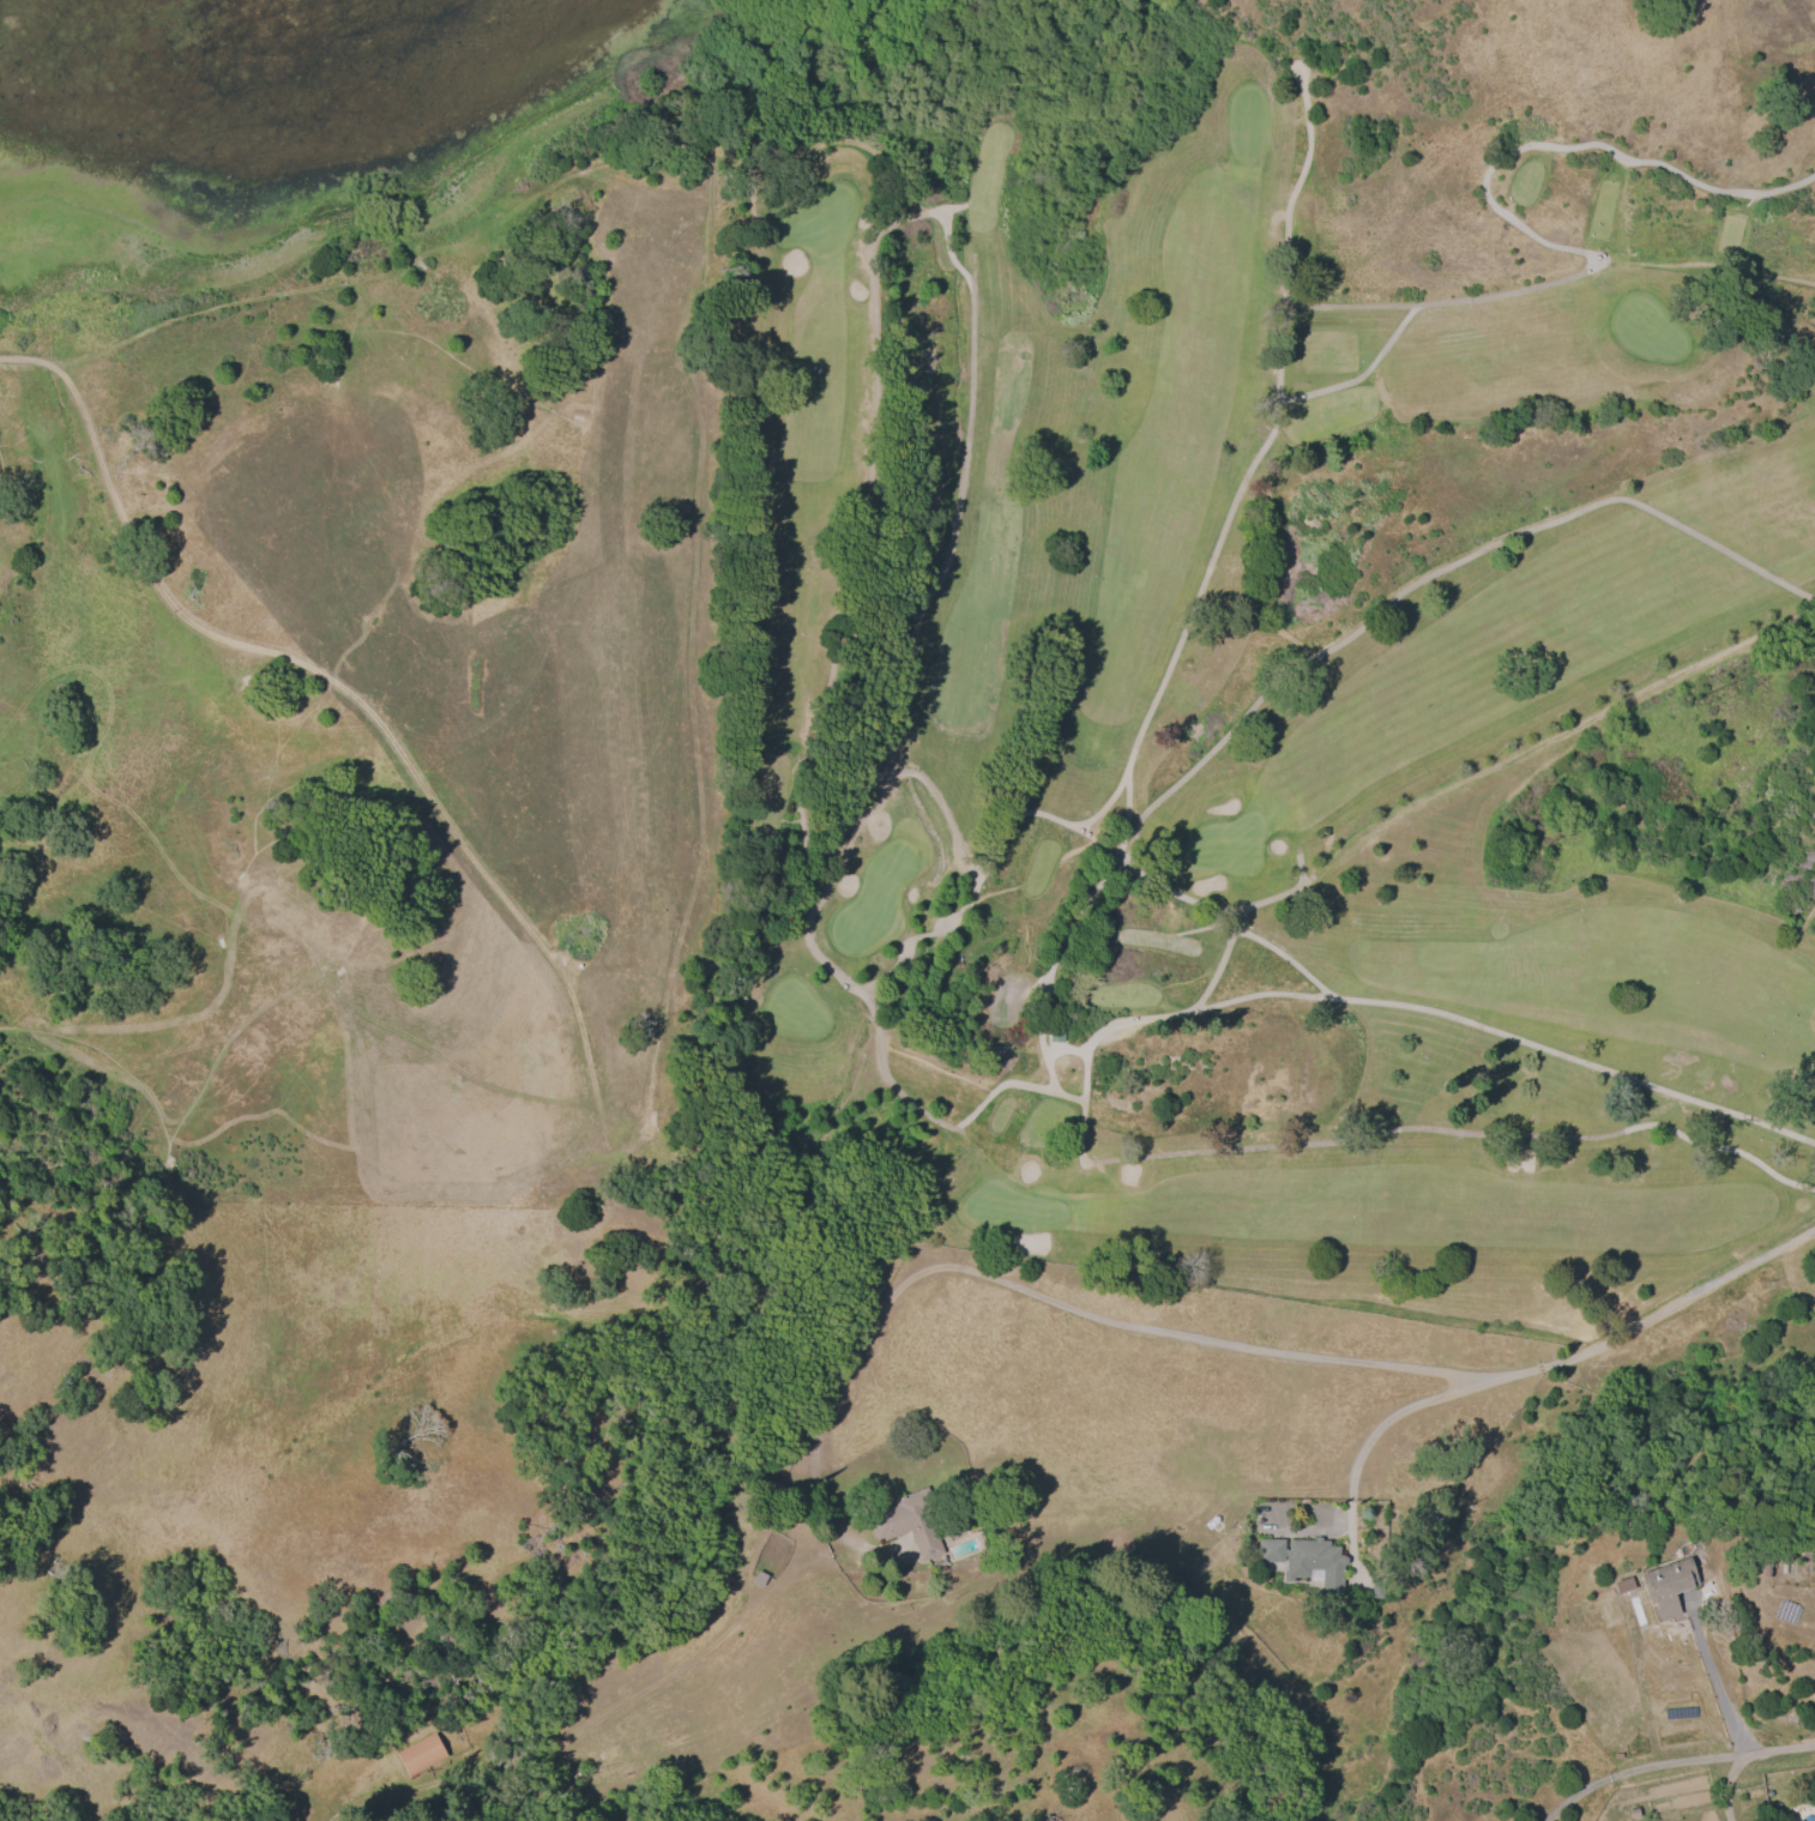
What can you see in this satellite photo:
road: (23, 352)
park: (1266, 701)
building: (1055, 1035)
road: (1095, 1315)
road: (1660, 1321)
road: (1398, 1413)
building: (907, 1521)
building: (1270, 1548)
building: (1314, 1562)
road: (784, 1579)
building: (1666, 1582)
building: (1623, 1584)
building: (1375, 1587)
road: (639, 1694)
road: (1720, 1694)
building: (420, 1751)
road: (1672, 1765)
road: (1726, 1785)

